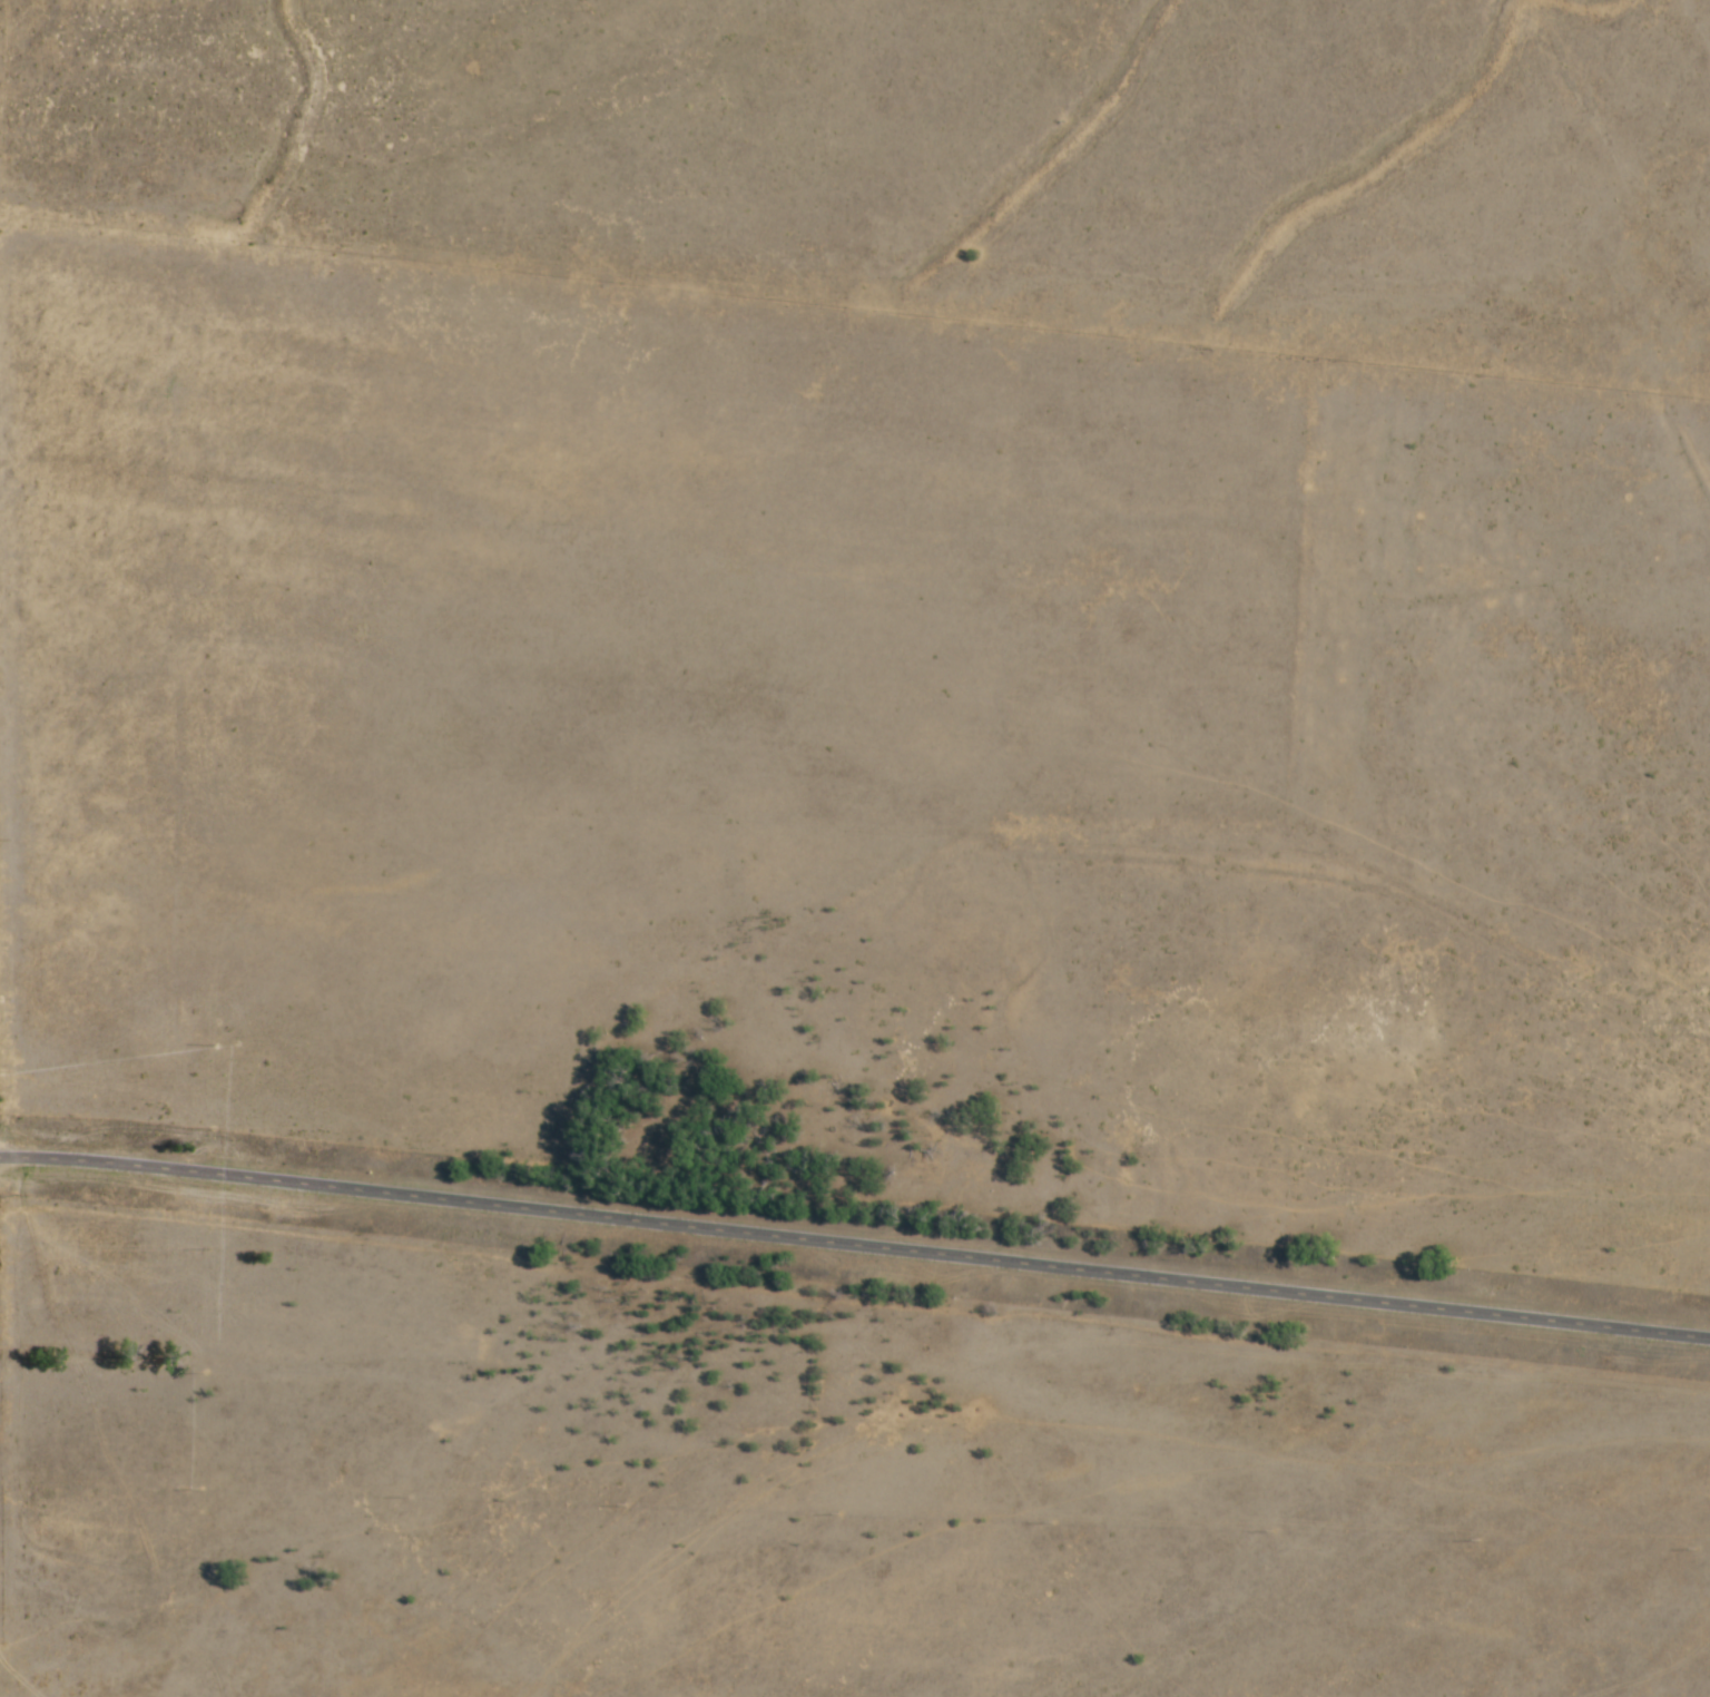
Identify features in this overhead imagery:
road: (854, 1253)
road: (33, 1483)

